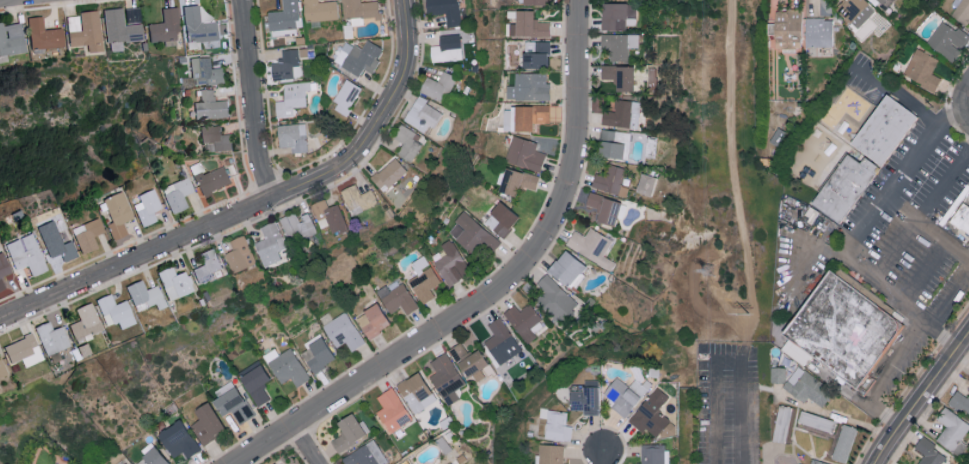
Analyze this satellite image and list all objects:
road: (1, 0)
building: (880, 0)
building: (535, 2)
building: (850, 7)
building: (361, 10)
building: (960, 10)
building: (320, 11)
building: (446, 11)
building: (617, 15)
building: (286, 20)
building: (524, 23)
building: (787, 27)
building: (165, 28)
building: (200, 29)
building: (120, 30)
building: (818, 31)
building: (88, 33)
building: (45, 37)
building: (947, 39)
building: (11, 41)
building: (619, 44)
building: (448, 49)
building: (534, 53)
building: (363, 60)
building: (286, 65)
building: (922, 68)
building: (205, 72)
building: (619, 74)
building: (528, 86)
building: (440, 88)
building: (348, 98)
building: (293, 99)
road: (901, 99)
road: (253, 101)
road: (966, 106)
building: (210, 108)
building: (623, 113)
building: (422, 115)
building: (523, 116)
building: (886, 131)
building: (216, 138)
building: (294, 138)
building: (612, 142)
building: (408, 143)
road: (733, 143)
building: (525, 153)
building: (390, 176)
building: (610, 179)
building: (517, 180)
building: (213, 182)
building: (645, 182)
building: (845, 189)
building: (177, 196)
building: (360, 200)
building: (603, 206)
road: (258, 208)
building: (147, 209)
building: (116, 217)
road: (923, 217)
building: (329, 218)
building: (500, 218)
parking lot: (912, 222)
building: (966, 226)
building: (298, 229)
road: (926, 229)
building: (472, 233)
building: (87, 236)
road: (851, 238)
building: (591, 245)
building: (271, 246)
building: (60, 248)
building: (241, 255)
building: (25, 256)
building: (450, 262)
building: (207, 267)
building: (3, 268)
building: (567, 268)
power tower: (714, 269)
road: (926, 273)
building: (422, 278)
building: (176, 284)
building: (1, 288)
road: (502, 289)
building: (145, 296)
building: (395, 296)
building: (554, 297)
road: (948, 300)
building: (114, 314)
power tower: (751, 316)
building: (522, 319)
building: (372, 320)
building: (86, 326)
building: (342, 330)
building: (849, 334)
building: (52, 340)
building: (501, 341)
road: (725, 348)
building: (316, 352)
building: (25, 354)
building: (468, 360)
building: (286, 365)
building: (2, 372)
building: (777, 373)
building: (968, 373)
road: (884, 376)
building: (445, 377)
building: (255, 382)
building: (807, 386)
building: (415, 391)
building: (625, 393)
building: (585, 399)
road: (922, 399)
building: (960, 400)
building: (231, 401)
parking lot: (729, 404)
building: (391, 409)
building: (652, 415)
building: (206, 422)
building: (557, 425)
building: (951, 430)
building: (347, 431)
building: (177, 439)
building: (843, 442)
road: (307, 446)
building: (928, 451)
building: (550, 453)
building: (651, 453)
building: (365, 454)
building: (151, 457)
road: (603, 458)
building: (816, 462)
building: (124, 463)
building: (274, 463)
building: (799, 463)

